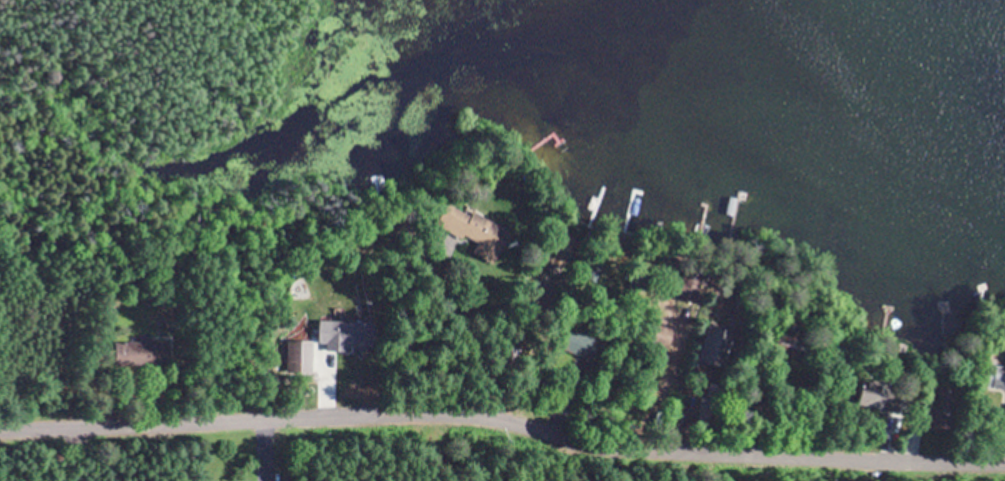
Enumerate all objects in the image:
building: (477, 230)
building: (344, 334)
building: (584, 346)
building: (713, 346)
building: (142, 352)
building: (998, 377)
building: (880, 394)
building: (1004, 414)
road: (504, 420)

